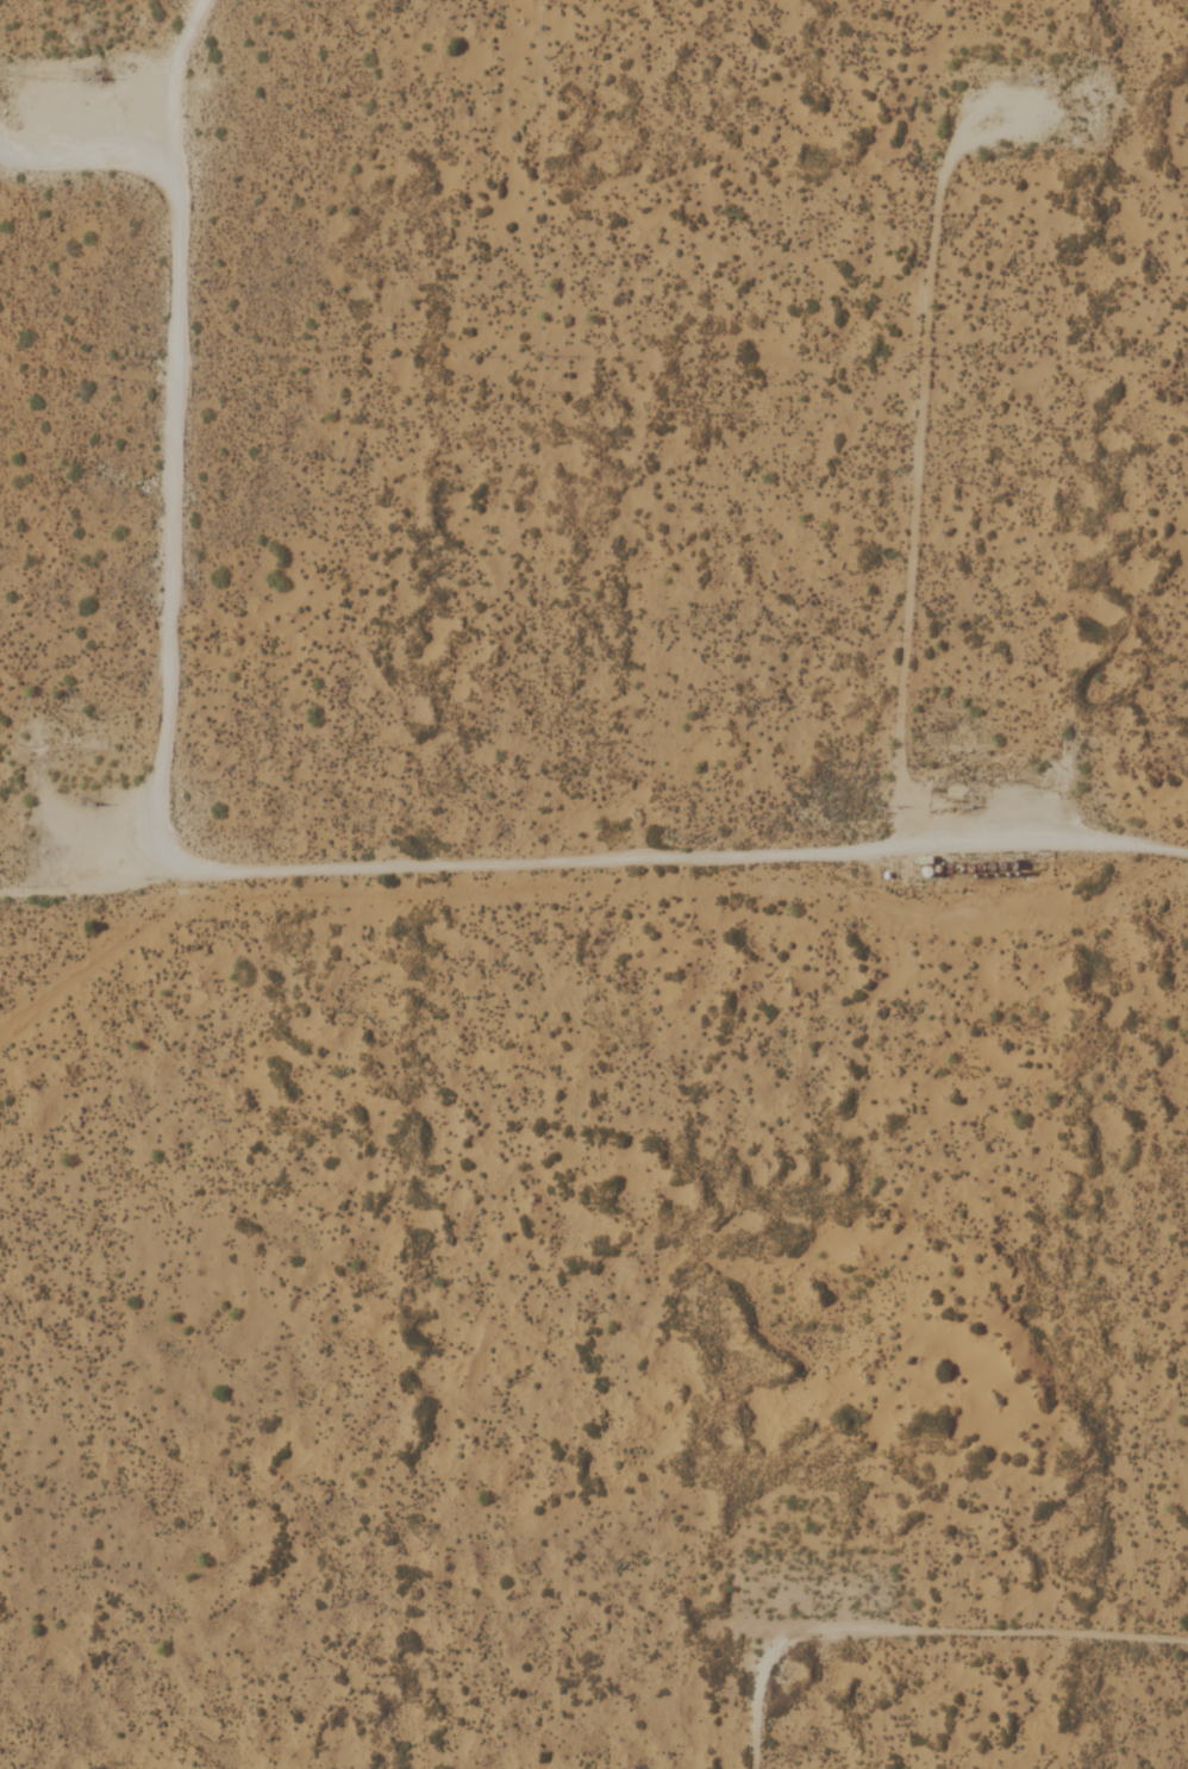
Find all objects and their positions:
road: (154, 85)
road: (175, 437)
road: (918, 488)
road: (594, 865)
road: (909, 1631)

